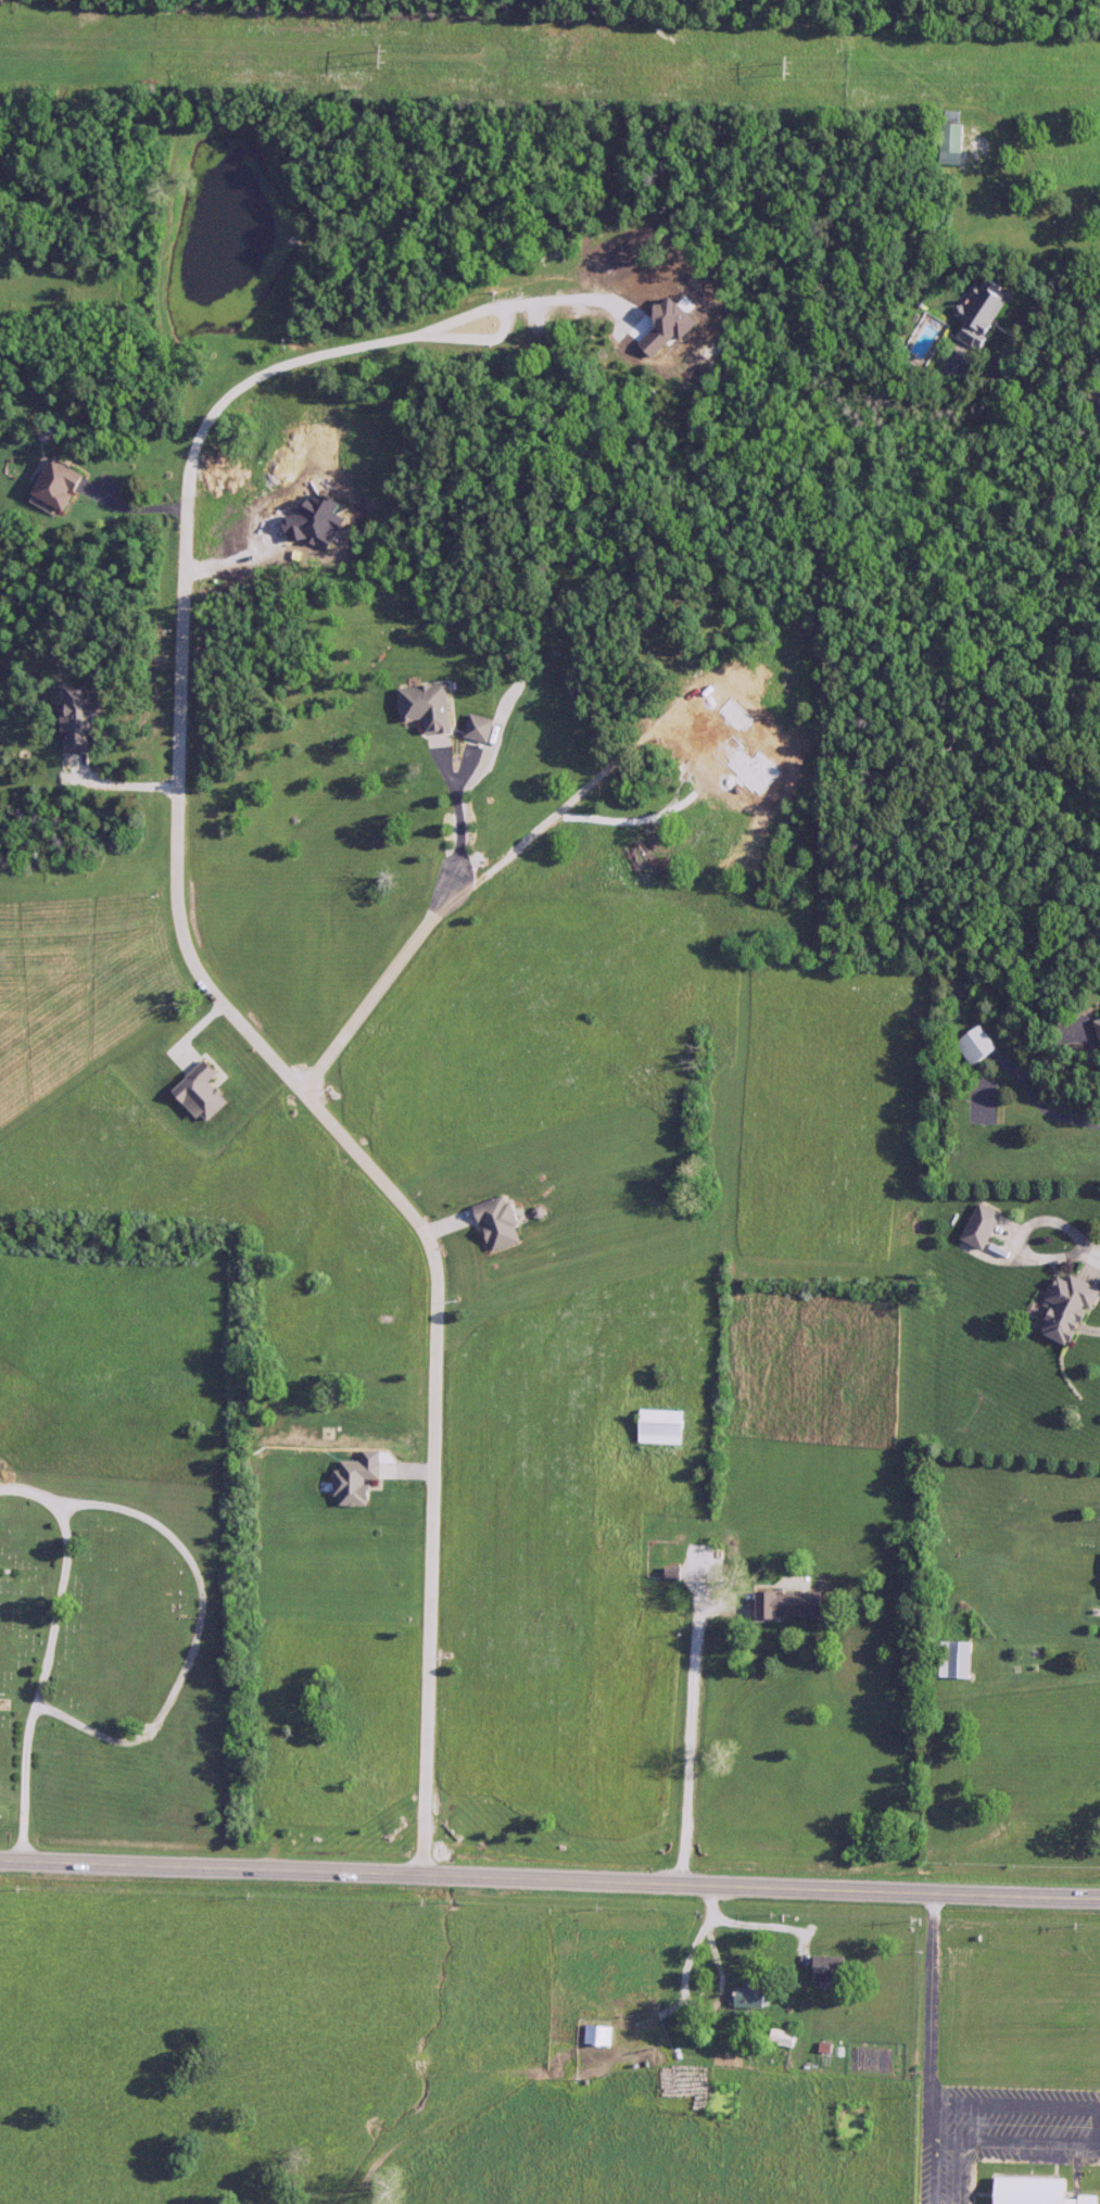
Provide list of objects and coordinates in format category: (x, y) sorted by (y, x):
building: (958, 136)
building: (992, 310)
road: (1029, 380)
building: (64, 482)
road: (132, 501)
building: (432, 705)
building: (482, 727)
road: (458, 809)
road: (198, 969)
road: (382, 986)
road: (1095, 1038)
building: (979, 1045)
road: (1047, 1093)
building: (503, 1222)
building: (985, 1225)
road: (1032, 1225)
road: (1093, 1248)
building: (1073, 1310)
building: (669, 1426)
building: (358, 1482)
building: (796, 1604)
building: (960, 1660)
road: (688, 1742)
road: (549, 1875)
road: (756, 1916)
building: (833, 1968)
road: (686, 1993)
road: (928, 1993)
building: (754, 1995)
building: (602, 2036)
building: (787, 2038)
building: (1038, 2191)

